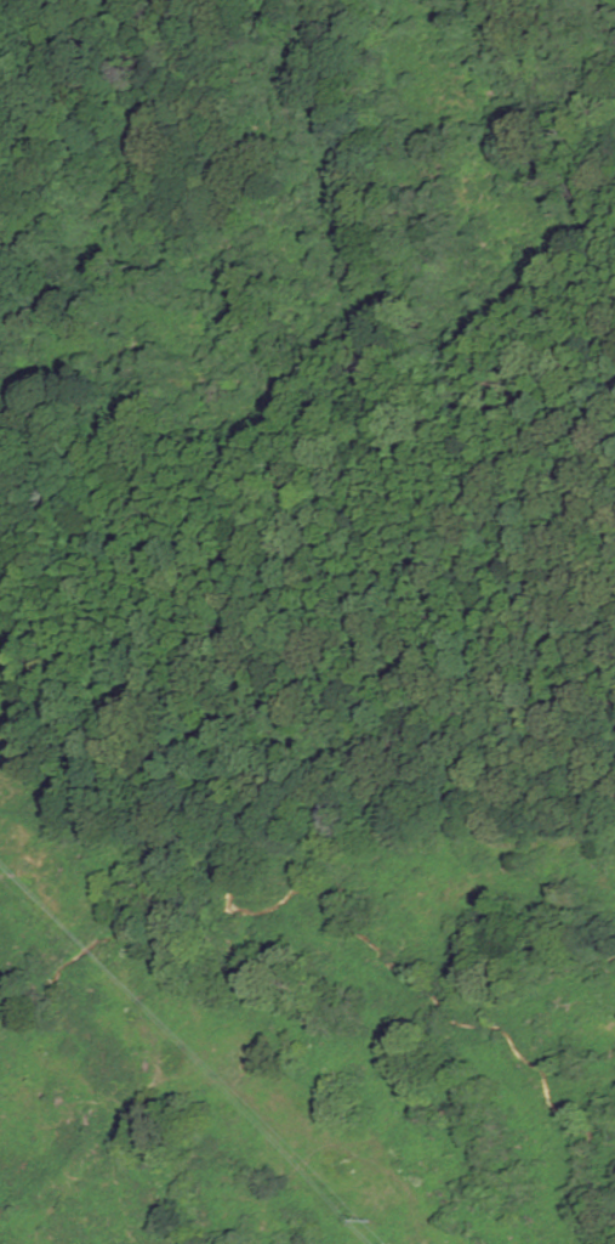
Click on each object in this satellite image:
power tower: (370, 1221)

